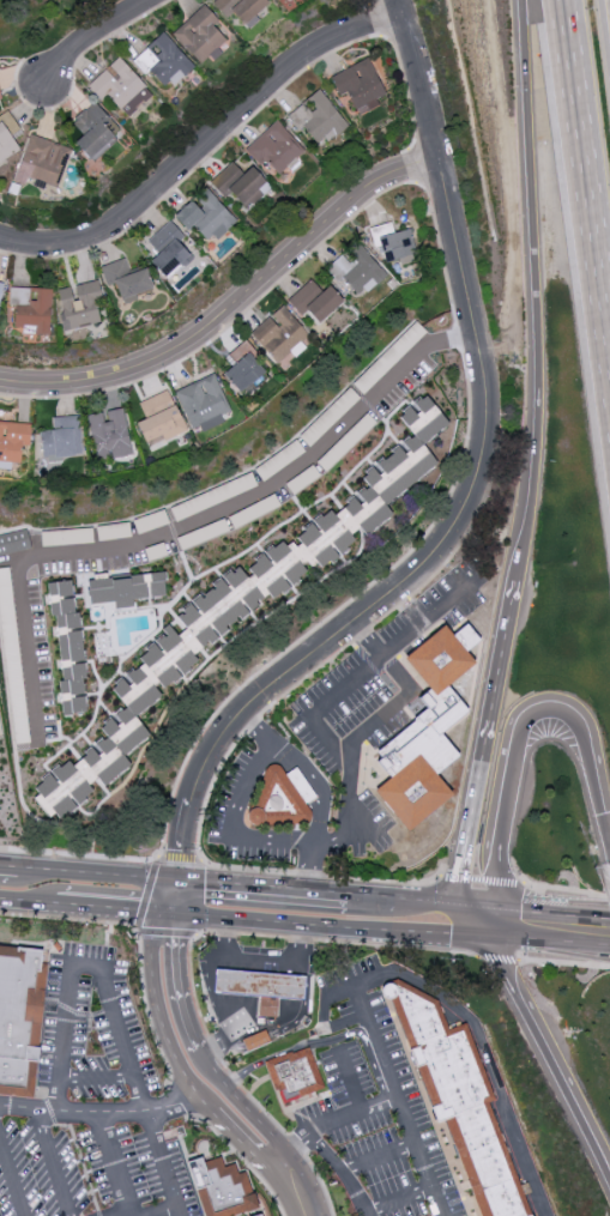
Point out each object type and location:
building: (289, 0)
building: (241, 8)
road: (401, 11)
road: (423, 11)
road: (96, 34)
building: (200, 35)
building: (162, 60)
building: (358, 84)
building: (120, 86)
building: (0, 97)
building: (316, 117)
building: (92, 131)
building: (7, 135)
road: (205, 145)
building: (276, 149)
road: (587, 151)
building: (41, 161)
building: (240, 183)
building: (205, 216)
building: (393, 243)
building: (168, 249)
building: (356, 270)
road: (537, 276)
building: (126, 279)
building: (0, 286)
building: (314, 300)
building: (78, 304)
road: (232, 307)
building: (30, 308)
building: (279, 334)
building: (243, 367)
building: (201, 403)
building: (158, 418)
building: (109, 434)
building: (61, 437)
building: (12, 441)
road: (459, 519)
road: (191, 524)
building: (13, 540)
building: (125, 588)
building: (243, 605)
building: (67, 645)
road: (369, 661)
building: (425, 728)
road: (490, 728)
road: (366, 730)
road: (518, 737)
road: (324, 787)
building: (280, 797)
road: (222, 825)
road: (605, 834)
traffic signals: (183, 849)
road: (79, 855)
road: (10, 867)
road: (10, 875)
road: (97, 875)
road: (321, 875)
road: (484, 878)
traffic signals: (204, 884)
road: (264, 889)
road: (568, 889)
road: (373, 897)
road: (144, 901)
road: (28, 902)
road: (427, 903)
traffic signals: (459, 907)
road: (476, 908)
road: (113, 909)
traffic signals: (494, 909)
traffic signals: (135, 912)
road: (551, 915)
road: (465, 921)
road: (324, 925)
traffic signals: (477, 934)
traffic signals: (173, 937)
road: (543, 939)
road: (139, 940)
road: (107, 945)
road: (301, 945)
road: (189, 955)
road: (500, 957)
road: (351, 963)
road: (566, 963)
road: (209, 974)
road: (105, 978)
building: (260, 987)
road: (67, 1006)
building: (19, 1016)
road: (350, 1018)
road: (42, 1022)
road: (90, 1027)
road: (225, 1036)
building: (254, 1039)
road: (322, 1041)
road: (193, 1052)
road: (176, 1057)
road: (491, 1057)
road: (546, 1058)
road: (391, 1069)
building: (301, 1076)
road: (351, 1079)
building: (464, 1099)
road: (179, 1101)
road: (50, 1111)
road: (101, 1111)
road: (336, 1120)
road: (158, 1145)
road: (380, 1157)
road: (243, 1158)
road: (81, 1161)
road: (54, 1162)
road: (115, 1163)
road: (345, 1172)
road: (12, 1175)
road: (194, 1176)
road: (297, 1187)
building: (229, 1191)
road: (400, 1197)
road: (151, 1210)
road: (98, 1212)

